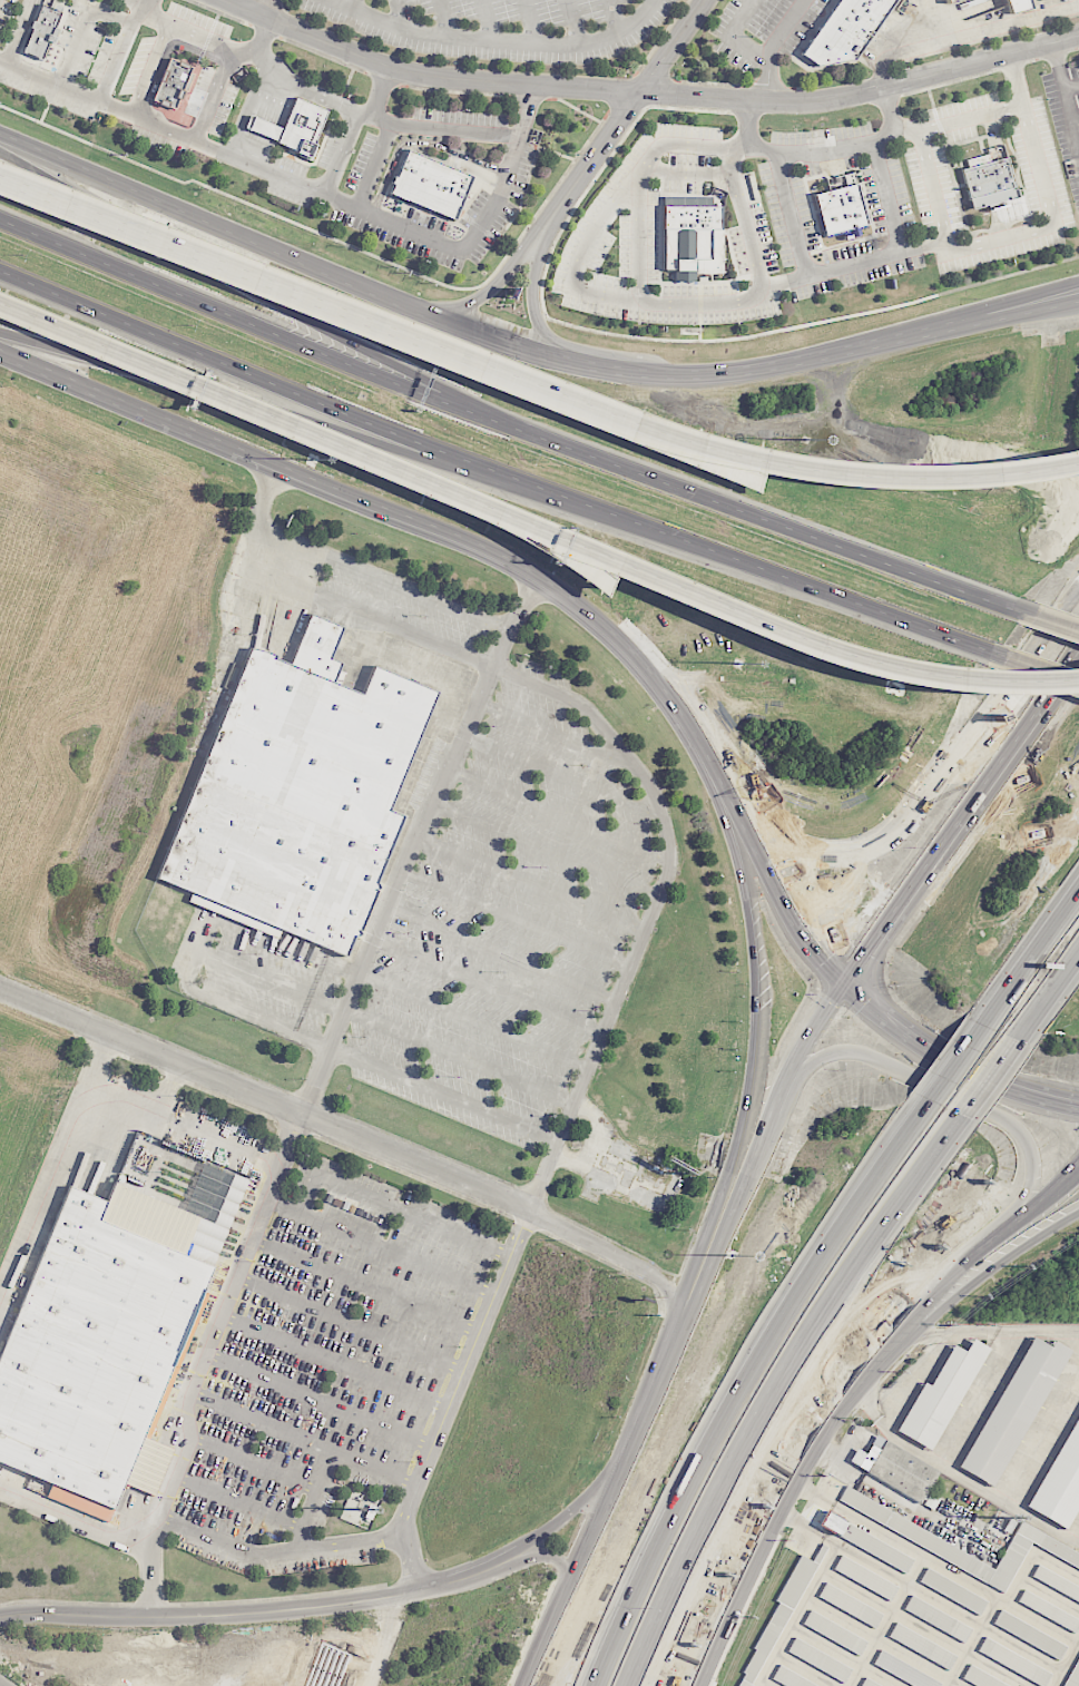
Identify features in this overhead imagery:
building: (949, 0)
building: (1016, 4)
road: (136, 6)
road: (357, 7)
road: (268, 9)
road: (398, 13)
road: (615, 17)
road: (443, 19)
road: (485, 21)
road: (529, 22)
road: (572, 22)
road: (82, 30)
building: (844, 30)
building: (41, 32)
road: (965, 36)
road: (726, 37)
road: (261, 38)
road: (494, 42)
road: (774, 48)
road: (118, 51)
road: (1058, 66)
road: (1017, 79)
building: (171, 84)
road: (320, 89)
road: (647, 91)
road: (381, 94)
road: (1069, 107)
road: (889, 108)
road: (626, 111)
road: (893, 125)
building: (301, 128)
road: (749, 136)
building: (987, 182)
building: (430, 184)
road: (315, 187)
building: (840, 206)
road: (746, 220)
road: (1055, 226)
building: (694, 239)
road: (261, 245)
road: (924, 245)
road: (892, 252)
street lamp: (21, 255)
road: (208, 257)
road: (212, 267)
road: (575, 274)
road: (491, 286)
road: (1036, 293)
street lamp: (975, 297)
road: (532, 298)
road: (1019, 315)
road: (975, 316)
road: (246, 322)
street lamp: (192, 325)
road: (547, 360)
road: (797, 364)
road: (601, 372)
road: (88, 390)
street lamp: (354, 392)
road: (224, 395)
road: (461, 400)
road: (247, 408)
road: (203, 435)
street lamp: (806, 438)
road: (738, 457)
street lamp: (313, 460)
street lamp: (530, 460)
road: (500, 472)
road: (518, 486)
road: (764, 519)
road: (494, 549)
road: (381, 576)
road: (1057, 625)
road: (778, 631)
street lamp: (738, 664)
road: (1042, 670)
street lamp: (1006, 722)
road: (555, 732)
road: (609, 735)
road: (702, 756)
road: (562, 775)
road: (723, 784)
building: (295, 792)
road: (926, 802)
road: (559, 813)
road: (960, 817)
road: (416, 843)
street lamp: (914, 846)
road: (548, 849)
road: (533, 883)
parking lot: (475, 899)
road: (784, 909)
road: (519, 918)
road: (503, 953)
road: (1031, 955)
road: (193, 968)
traffic signals: (841, 983)
road: (491, 986)
road: (1046, 1002)
road: (1049, 1002)
road: (754, 1003)
road: (475, 1021)
road: (462, 1053)
road: (837, 1058)
road: (952, 1058)
road: (955, 1061)
road: (993, 1081)
road: (169, 1086)
road: (122, 1094)
road: (447, 1094)
road: (961, 1098)
road: (265, 1100)
road: (775, 1111)
road: (223, 1133)
road: (51, 1158)
road: (1073, 1179)
road: (305, 1194)
road: (414, 1214)
road: (381, 1247)
road: (616, 1253)
road: (367, 1283)
road: (798, 1290)
road: (904, 1320)
road: (352, 1321)
road: (1001, 1332)
road: (916, 1336)
building: (90, 1347)
road: (667, 1353)
road: (200, 1361)
road: (335, 1361)
road: (465, 1369)
parking lot: (330, 1372)
road: (779, 1391)
building: (940, 1395)
road: (972, 1396)
road: (320, 1399)
building: (1013, 1410)
road: (1041, 1430)
road: (305, 1434)
road: (252, 1462)
building: (895, 1468)
road: (961, 1476)
building: (1062, 1484)
road: (314, 1499)
road: (238, 1500)
road: (811, 1510)
road: (569, 1516)
road: (76, 1523)
building: (915, 1533)
road: (1078, 1540)
building: (866, 1541)
road: (277, 1552)
road: (550, 1557)
road: (411, 1559)
road: (576, 1575)
building: (865, 1578)
building: (1057, 1582)
road: (630, 1588)
road: (649, 1588)
road: (739, 1588)
building: (953, 1591)
building: (850, 1605)
building: (1049, 1610)
road: (257, 1611)
building: (938, 1618)
building: (834, 1633)
building: (1030, 1635)
building: (922, 1646)
road: (382, 1649)
building: (820, 1659)
building: (1014, 1662)
building: (903, 1670)
building: (789, 1677)
building: (980, 1679)
road: (2, 1684)

